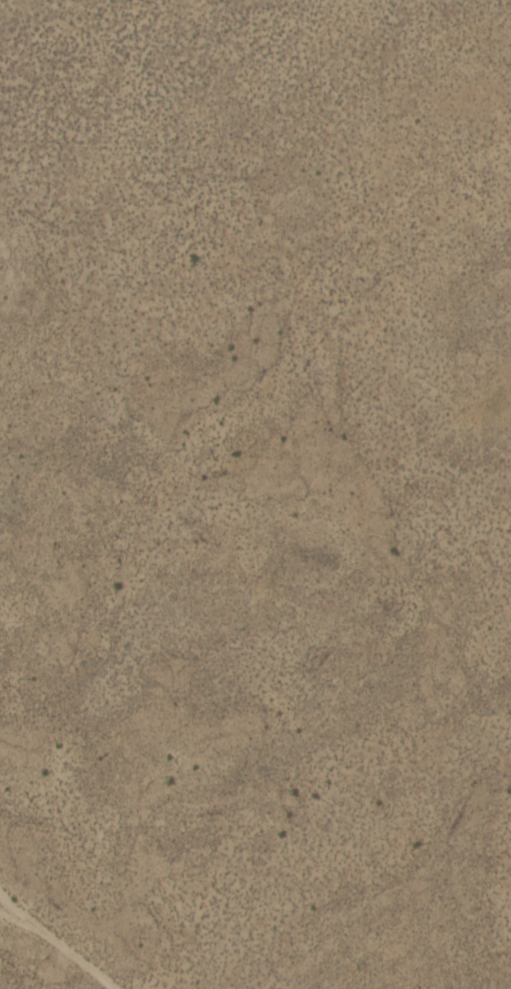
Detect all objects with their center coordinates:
road: (31, 962)

